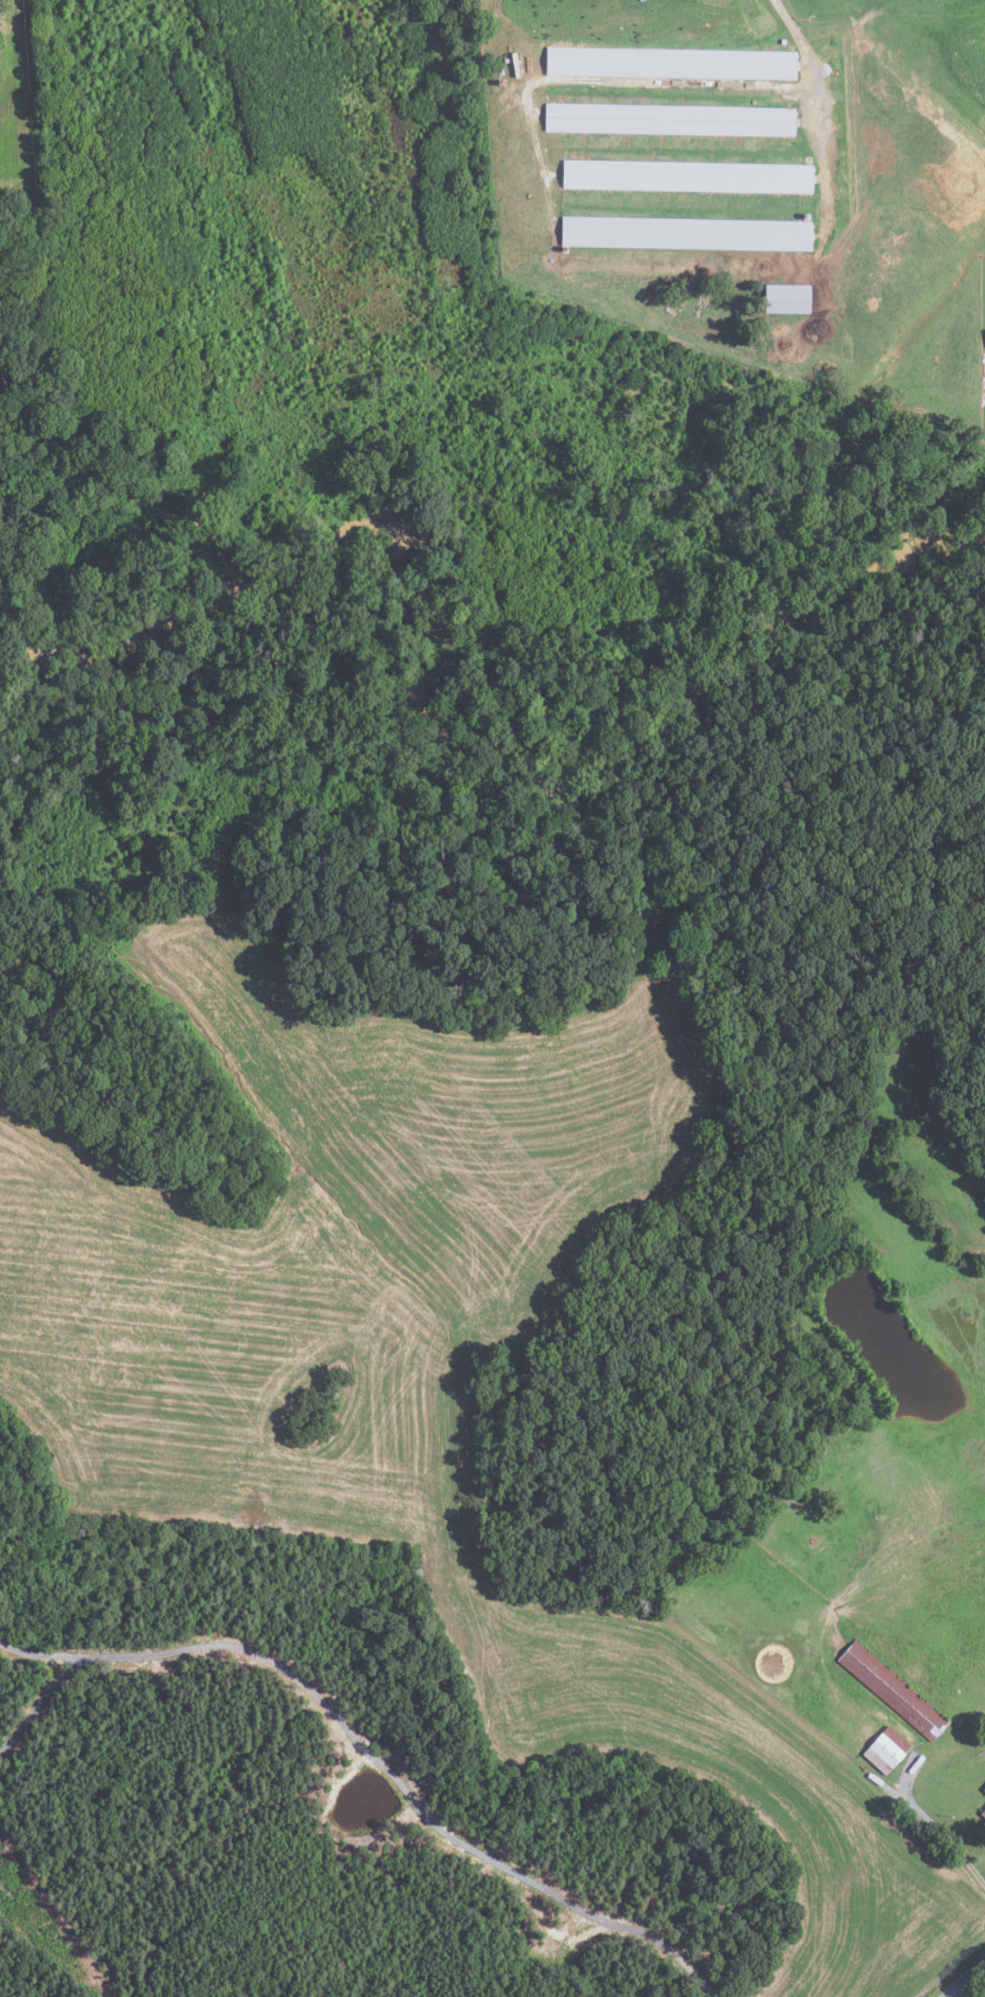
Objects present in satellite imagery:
building: (638, 0)
building: (669, 63)
road: (819, 99)
building: (668, 119)
building: (686, 176)
building: (685, 232)
building: (786, 298)
building: (984, 333)
crop: (418, 1373)
road: (42, 1654)
building: (891, 1690)
road: (362, 1744)
building: (885, 1749)
building: (983, 1788)
building: (982, 1812)
road: (944, 1832)
road: (966, 1979)
road: (956, 1993)

